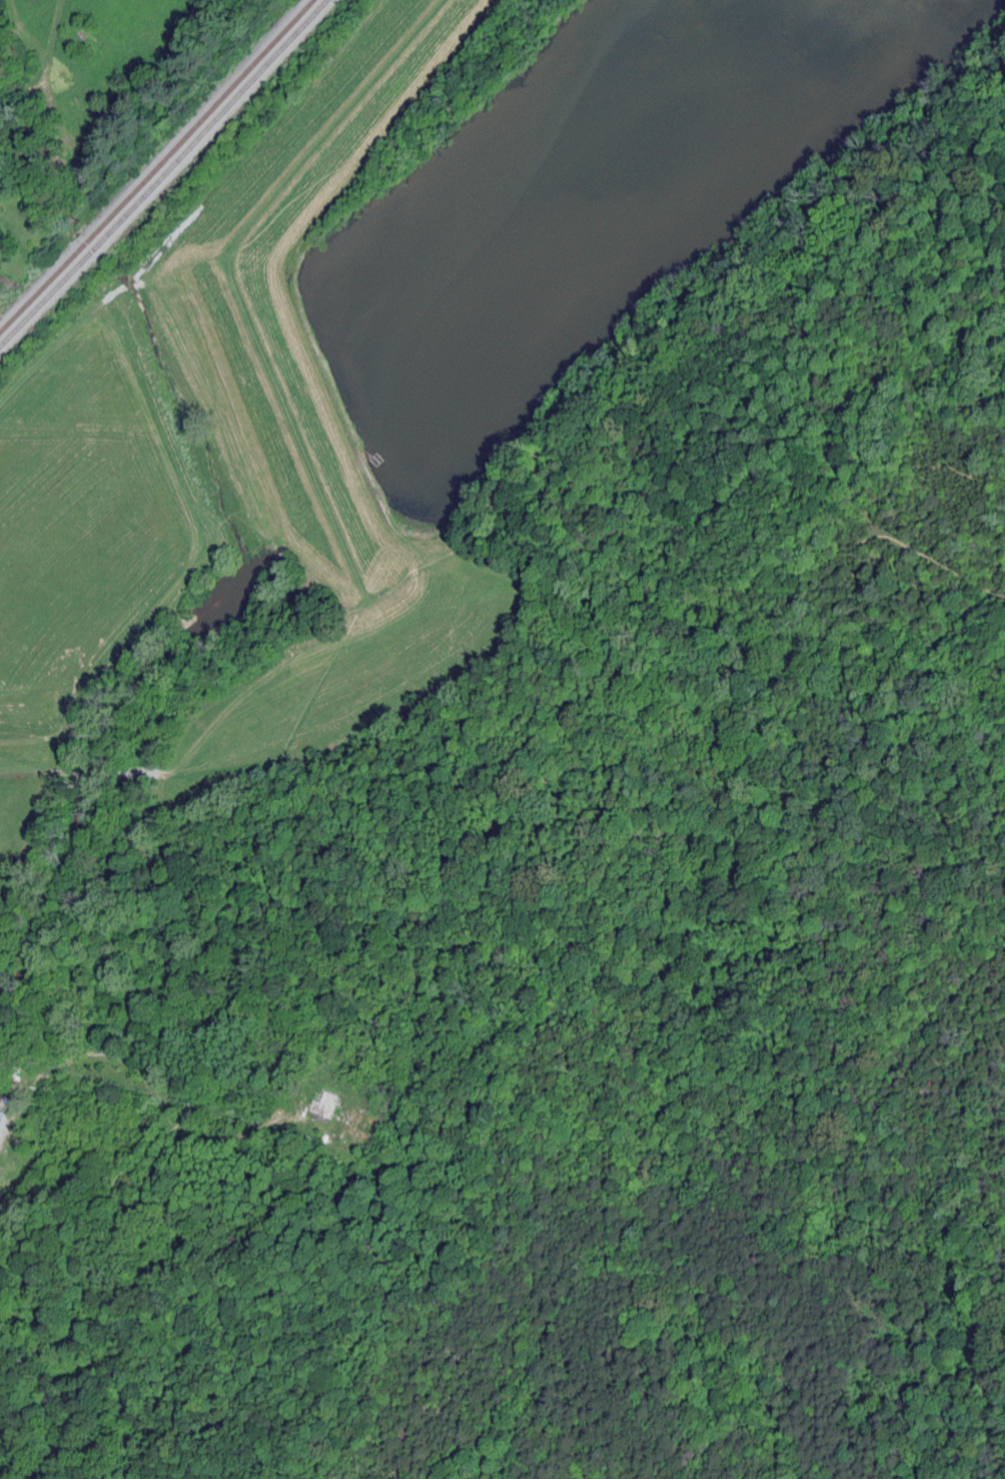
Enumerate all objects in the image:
road: (999, 104)
railway: (208, 112)
railway: (164, 174)
road: (978, 197)
railway: (52, 278)
road: (856, 403)
road: (574, 520)
road: (356, 565)
road: (330, 674)
road: (453, 801)
road: (518, 868)
road: (425, 988)
road: (823, 1045)
road: (145, 1067)
building: (329, 1104)
road: (537, 1125)
road: (718, 1150)
road: (154, 1167)
road: (816, 1336)
road: (485, 1360)

